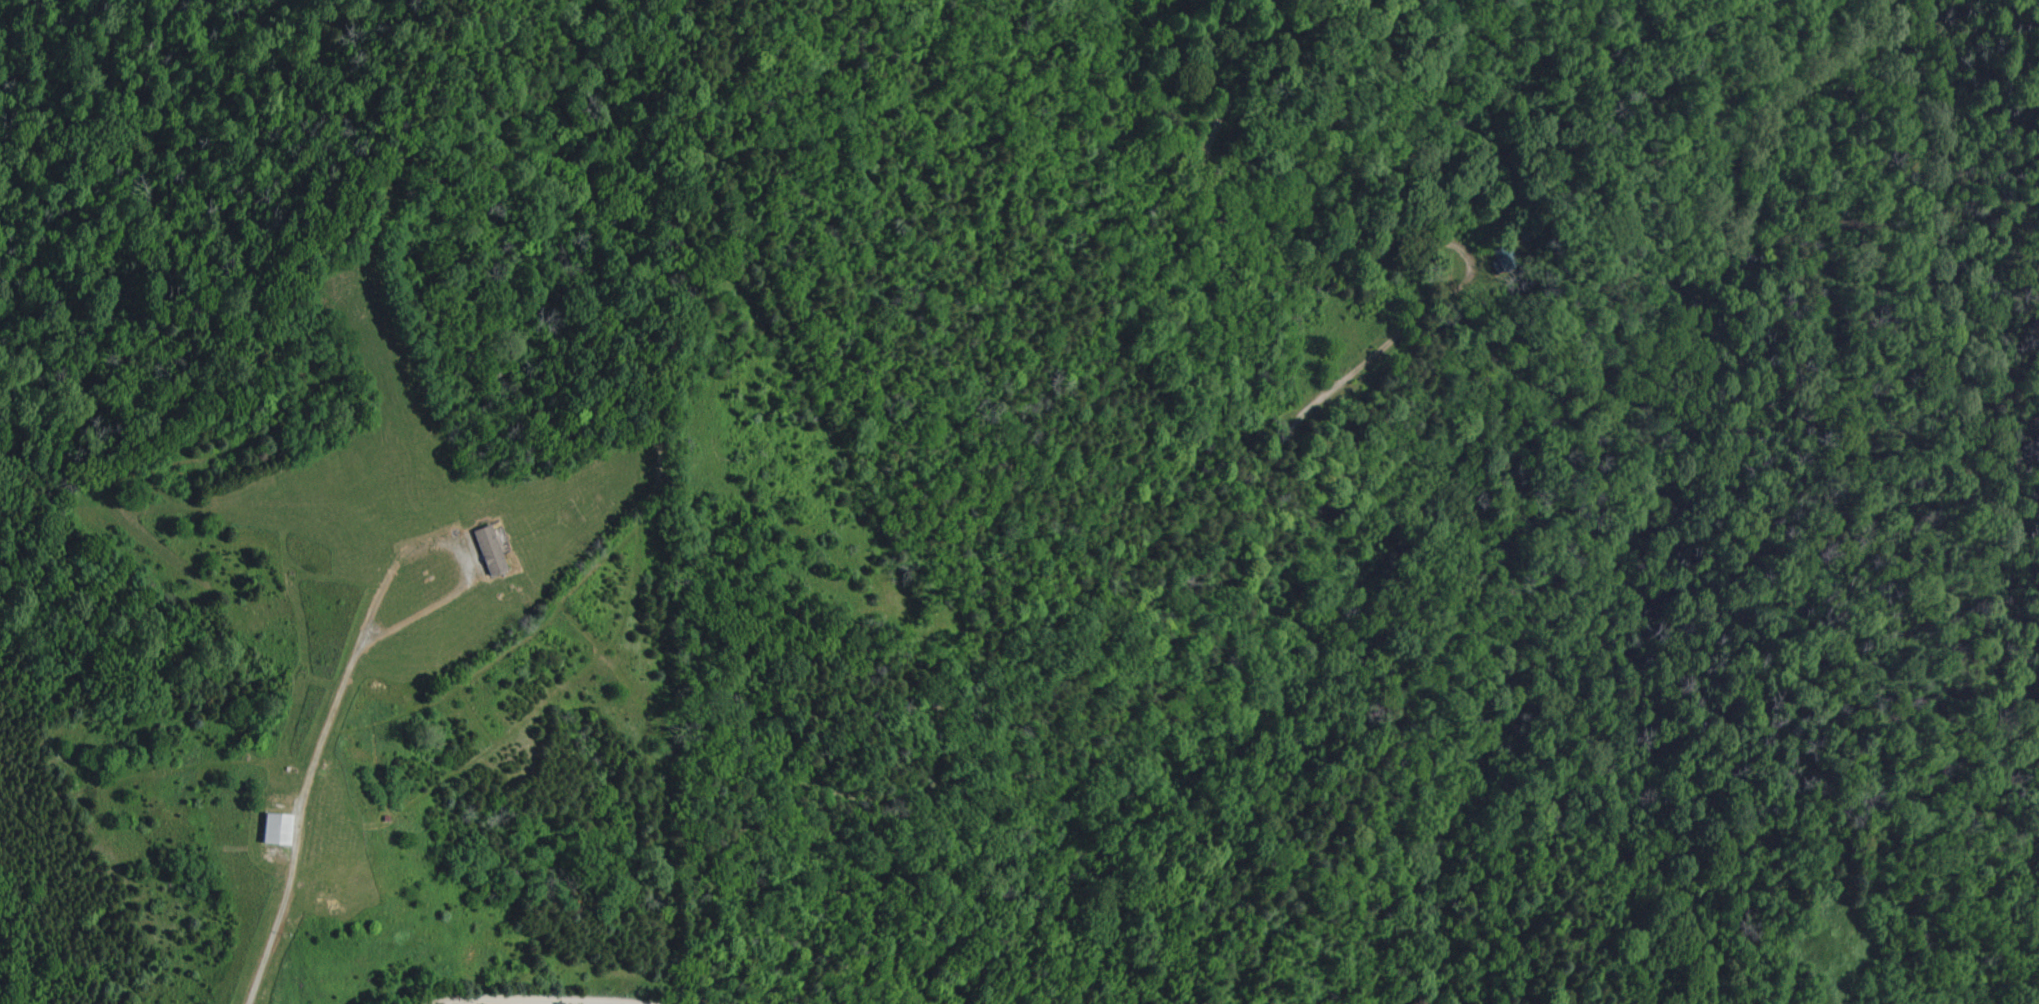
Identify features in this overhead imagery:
road: (30, 28)
building: (485, 550)
road: (321, 757)
building: (271, 829)
road: (545, 998)

